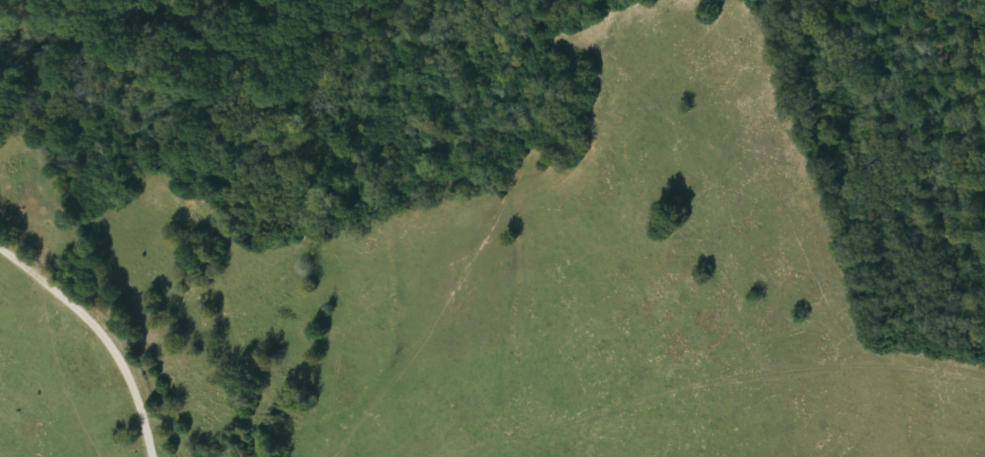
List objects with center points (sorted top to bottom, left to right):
road: (101, 334)

